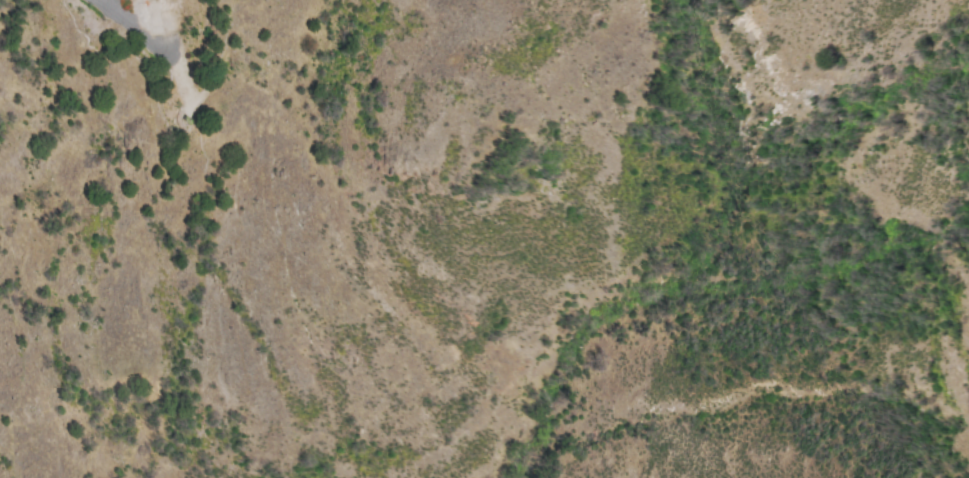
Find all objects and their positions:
road: (109, 10)

